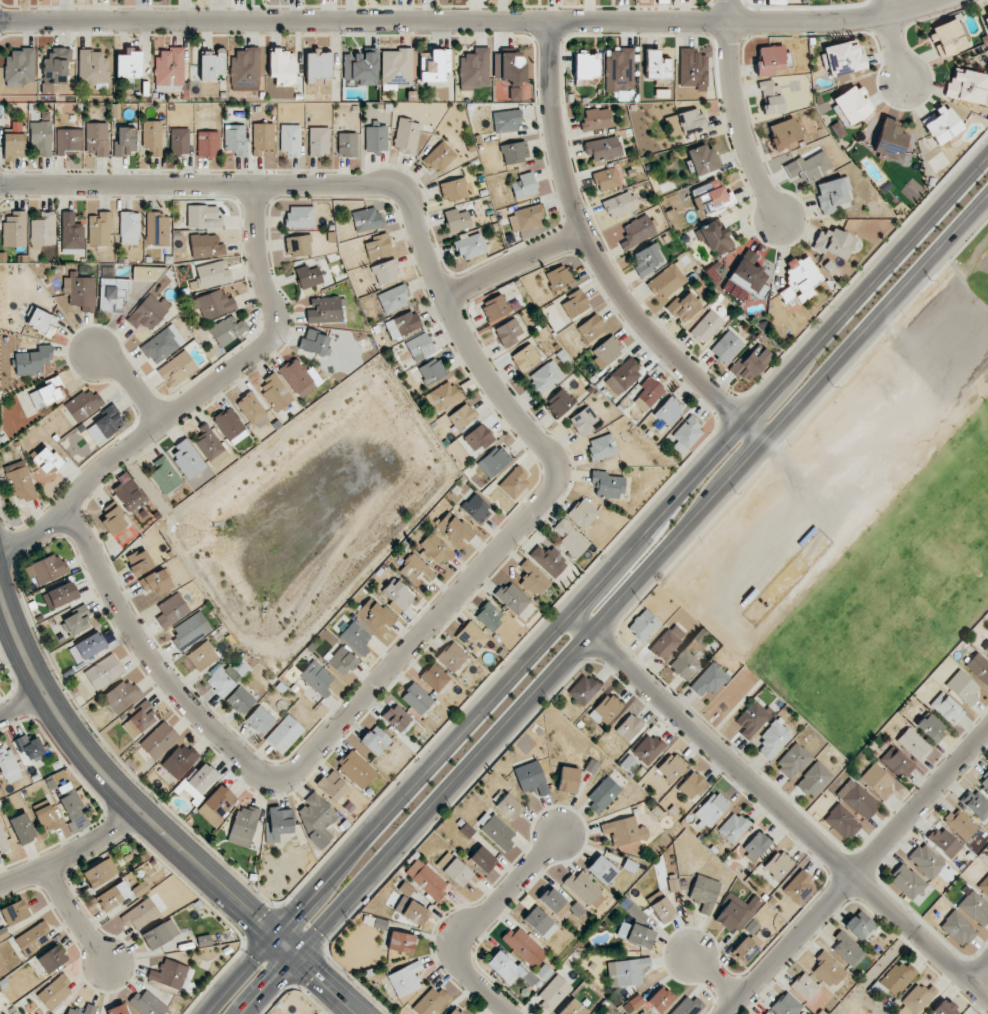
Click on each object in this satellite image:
building: (986, 16)
road: (470, 17)
building: (947, 38)
road: (890, 39)
building: (842, 57)
building: (769, 60)
building: (129, 64)
building: (211, 64)
building: (656, 65)
building: (317, 66)
building: (20, 67)
building: (93, 67)
building: (282, 67)
building: (435, 67)
building: (586, 67)
building: (245, 68)
building: (396, 68)
building: (169, 69)
building: (360, 69)
building: (474, 69)
building: (692, 69)
building: (619, 70)
building: (513, 72)
building: (967, 86)
building: (769, 97)
building: (852, 105)
road: (737, 116)
building: (596, 119)
building: (506, 121)
building: (691, 121)
building: (942, 125)
building: (784, 133)
building: (41, 135)
building: (406, 136)
building: (152, 137)
building: (97, 138)
building: (262, 138)
building: (890, 139)
building: (68, 140)
building: (235, 140)
building: (290, 140)
building: (179, 141)
building: (318, 141)
building: (124, 142)
building: (208, 144)
building: (347, 144)
building: (13, 146)
building: (602, 148)
building: (514, 152)
building: (440, 157)
building: (702, 159)
building: (808, 167)
road: (370, 178)
building: (606, 179)
building: (524, 185)
building: (453, 189)
building: (832, 194)
building: (711, 196)
building: (620, 204)
building: (203, 217)
building: (300, 217)
building: (526, 218)
building: (366, 219)
building: (457, 220)
building: (129, 228)
building: (14, 229)
building: (43, 229)
building: (99, 229)
building: (157, 229)
building: (637, 231)
building: (71, 234)
building: (713, 237)
building: (834, 243)
building: (298, 245)
building: (206, 246)
building: (377, 246)
building: (470, 246)
road: (599, 257)
road: (515, 258)
building: (647, 259)
building: (386, 271)
building: (748, 273)
building: (213, 274)
building: (309, 276)
building: (559, 277)
building: (802, 277)
road: (962, 280)
building: (666, 282)
building: (80, 290)
building: (112, 294)
building: (393, 299)
building: (575, 303)
building: (214, 304)
building: (494, 307)
building: (684, 307)
building: (324, 310)
building: (148, 312)
building: (42, 322)
building: (402, 324)
building: (707, 327)
building: (590, 328)
building: (228, 330)
building: (508, 332)
building: (314, 343)
building: (162, 344)
building: (420, 346)
building: (726, 347)
building: (606, 351)
building: (525, 357)
building: (32, 361)
building: (750, 364)
building: (177, 368)
building: (432, 371)
building: (546, 376)
building: (300, 377)
building: (622, 377)
road: (129, 380)
building: (275, 392)
building: (47, 393)
building: (648, 393)
road: (200, 394)
building: (443, 396)
building: (560, 402)
building: (83, 404)
building: (253, 410)
building: (668, 411)
building: (462, 416)
building: (583, 421)
building: (105, 425)
building: (230, 426)
building: (686, 433)
building: (478, 437)
building: (210, 444)
building: (602, 446)
building: (187, 458)
building: (48, 460)
building: (494, 461)
building: (164, 475)
building: (514, 482)
building: (21, 484)
building: (607, 484)
building: (128, 493)
building: (476, 509)
building: (582, 513)
park: (862, 521)
building: (113, 522)
building: (456, 529)
building: (570, 539)
building: (435, 549)
building: (548, 560)
building: (140, 562)
building: (47, 569)
building: (416, 570)
building: (533, 579)
building: (156, 582)
road: (594, 582)
building: (63, 594)
building: (398, 596)
building: (512, 598)
road: (617, 607)
building: (172, 610)
building: (375, 614)
building: (489, 615)
building: (76, 621)
building: (643, 625)
building: (190, 631)
building: (471, 637)
building: (356, 638)
building: (667, 642)
building: (88, 647)
building: (986, 651)
building: (202, 656)
building: (452, 657)
building: (341, 660)
building: (684, 664)
building: (978, 667)
building: (103, 671)
building: (434, 677)
building: (317, 678)
building: (219, 680)
building: (709, 680)
building: (0, 682)
building: (963, 687)
building: (583, 689)
building: (122, 695)
building: (417, 699)
building: (240, 700)
building: (947, 707)
building: (606, 709)
road: (24, 710)
building: (397, 718)
building: (751, 718)
building: (139, 720)
building: (260, 720)
building: (628, 727)
building: (931, 727)
building: (284, 734)
building: (774, 739)
building: (158, 740)
building: (375, 740)
building: (913, 743)
building: (29, 748)
building: (648, 749)
road: (308, 759)
building: (180, 760)
building: (793, 760)
building: (896, 762)
building: (8, 765)
building: (672, 766)
building: (357, 769)
building: (531, 778)
building: (568, 779)
building: (814, 779)
building: (877, 781)
building: (983, 782)
building: (332, 785)
building: (692, 785)
building: (603, 795)
building: (857, 799)
building: (217, 804)
building: (975, 804)
building: (508, 806)
road: (775, 806)
building: (711, 810)
building: (74, 811)
building: (47, 818)
building: (316, 818)
building: (841, 821)
building: (278, 823)
building: (960, 824)
building: (243, 825)
building: (733, 827)
building: (22, 828)
road: (151, 828)
building: (495, 830)
building: (624, 830)
building: (3, 841)
building: (944, 842)
building: (755, 846)
building: (482, 859)
building: (926, 861)
road: (76, 863)
building: (778, 864)
building: (454, 869)
building: (602, 869)
road: (858, 873)
building: (97, 874)
building: (426, 879)
building: (907, 881)
building: (984, 886)
building: (582, 888)
building: (798, 888)
building: (704, 893)
building: (113, 896)
building: (553, 901)
building: (410, 906)
building: (975, 907)
building: (663, 910)
building: (14, 912)
building: (736, 912)
building: (139, 914)
road: (77, 919)
road: (477, 921)
building: (540, 922)
building: (859, 925)
building: (958, 928)
building: (160, 934)
building: (637, 935)
building: (33, 938)
building: (204, 941)
building: (401, 942)
building: (524, 946)
building: (745, 949)
building: (847, 949)
building: (51, 959)
building: (507, 968)
building: (828, 969)
building: (626, 971)
building: (169, 974)
road: (981, 975)
building: (897, 977)
building: (405, 979)
road: (713, 980)
building: (805, 987)
building: (55, 992)
building: (553, 992)
building: (918, 998)
building: (660, 999)
building: (430, 1002)
building: (148, 1003)
building: (786, 1005)
building: (687, 1006)
building: (572, 1008)
building: (944, 1008)
building: (89, 1009)
building: (117, 1010)
building: (456, 1011)
building: (317, 1013)
building: (767, 1013)

